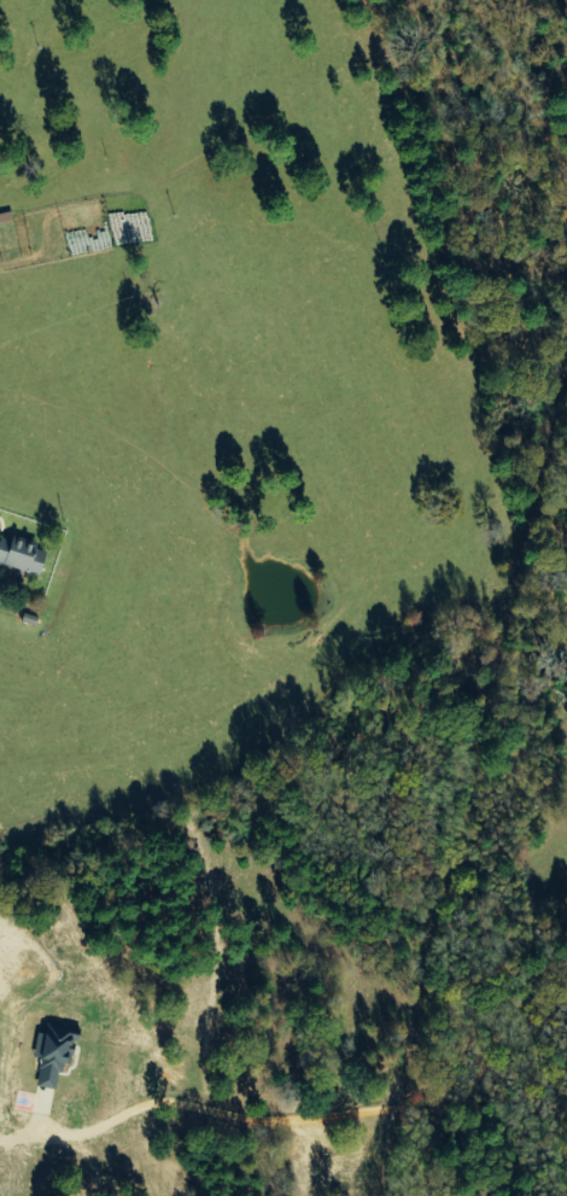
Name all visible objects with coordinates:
building: (21, 556)
road: (434, 1043)
building: (52, 1058)
road: (7, 1162)

